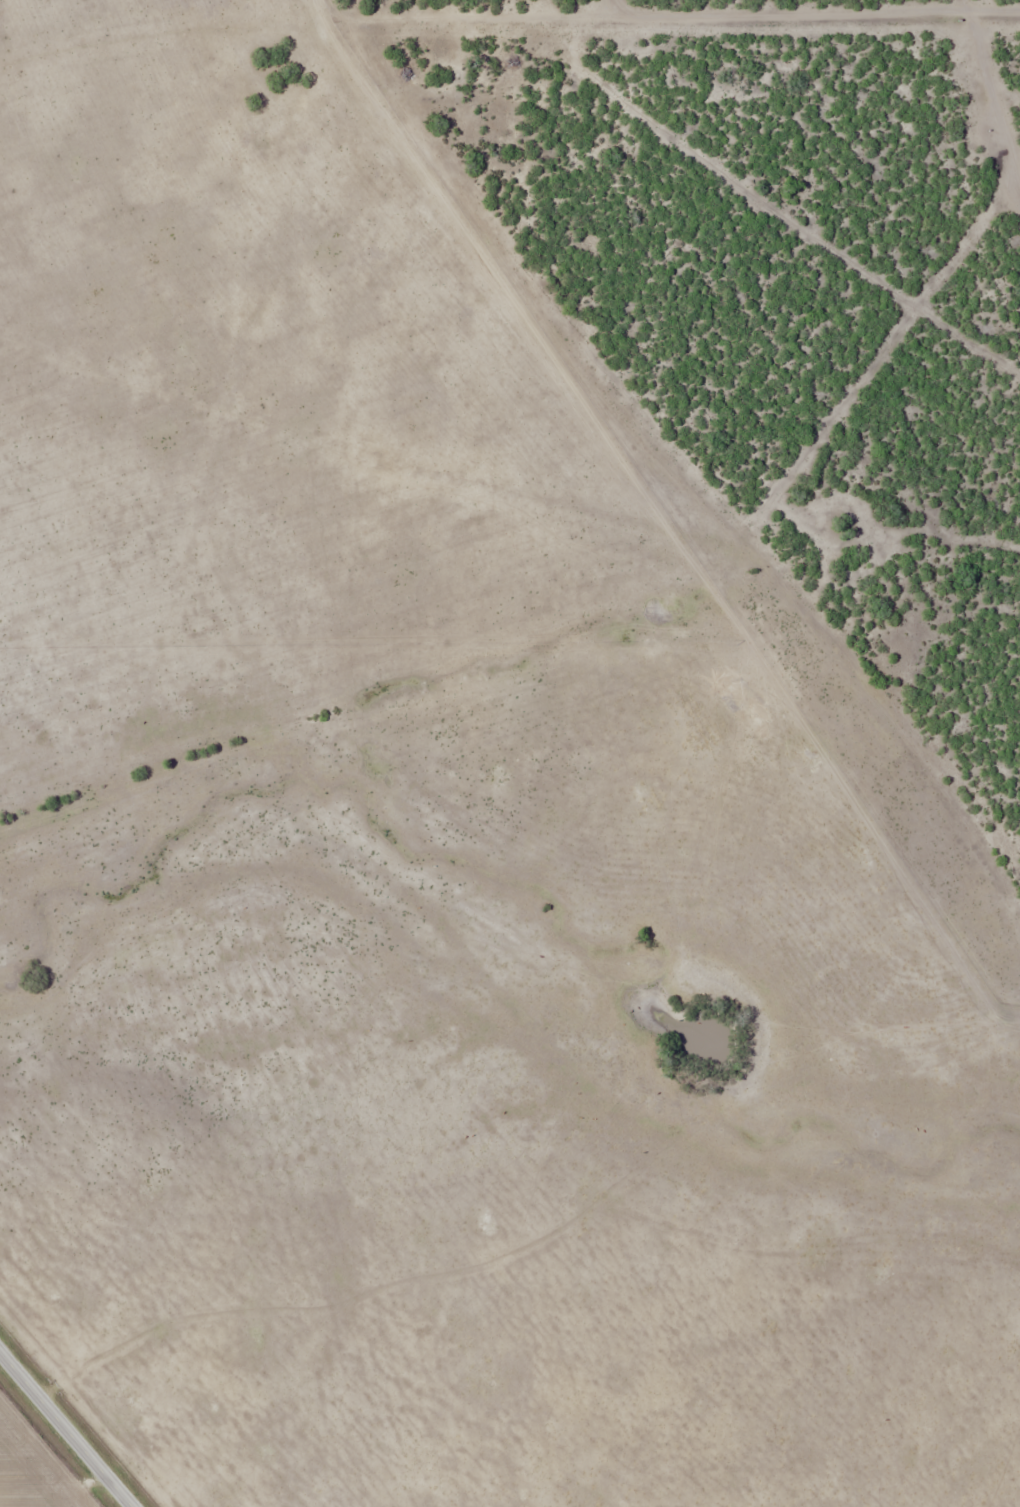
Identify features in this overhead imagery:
road: (65, 1430)

